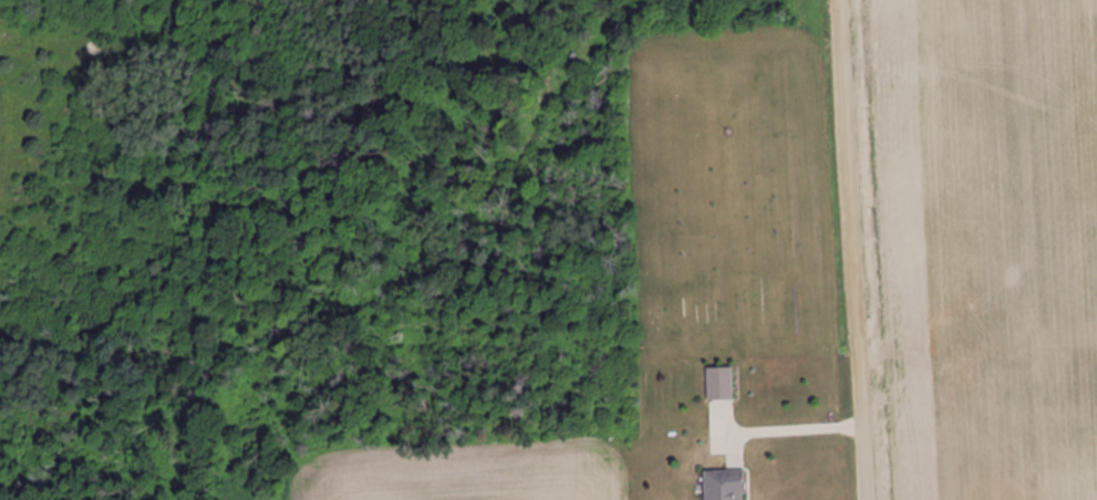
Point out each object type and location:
road: (851, 250)
building: (723, 485)

